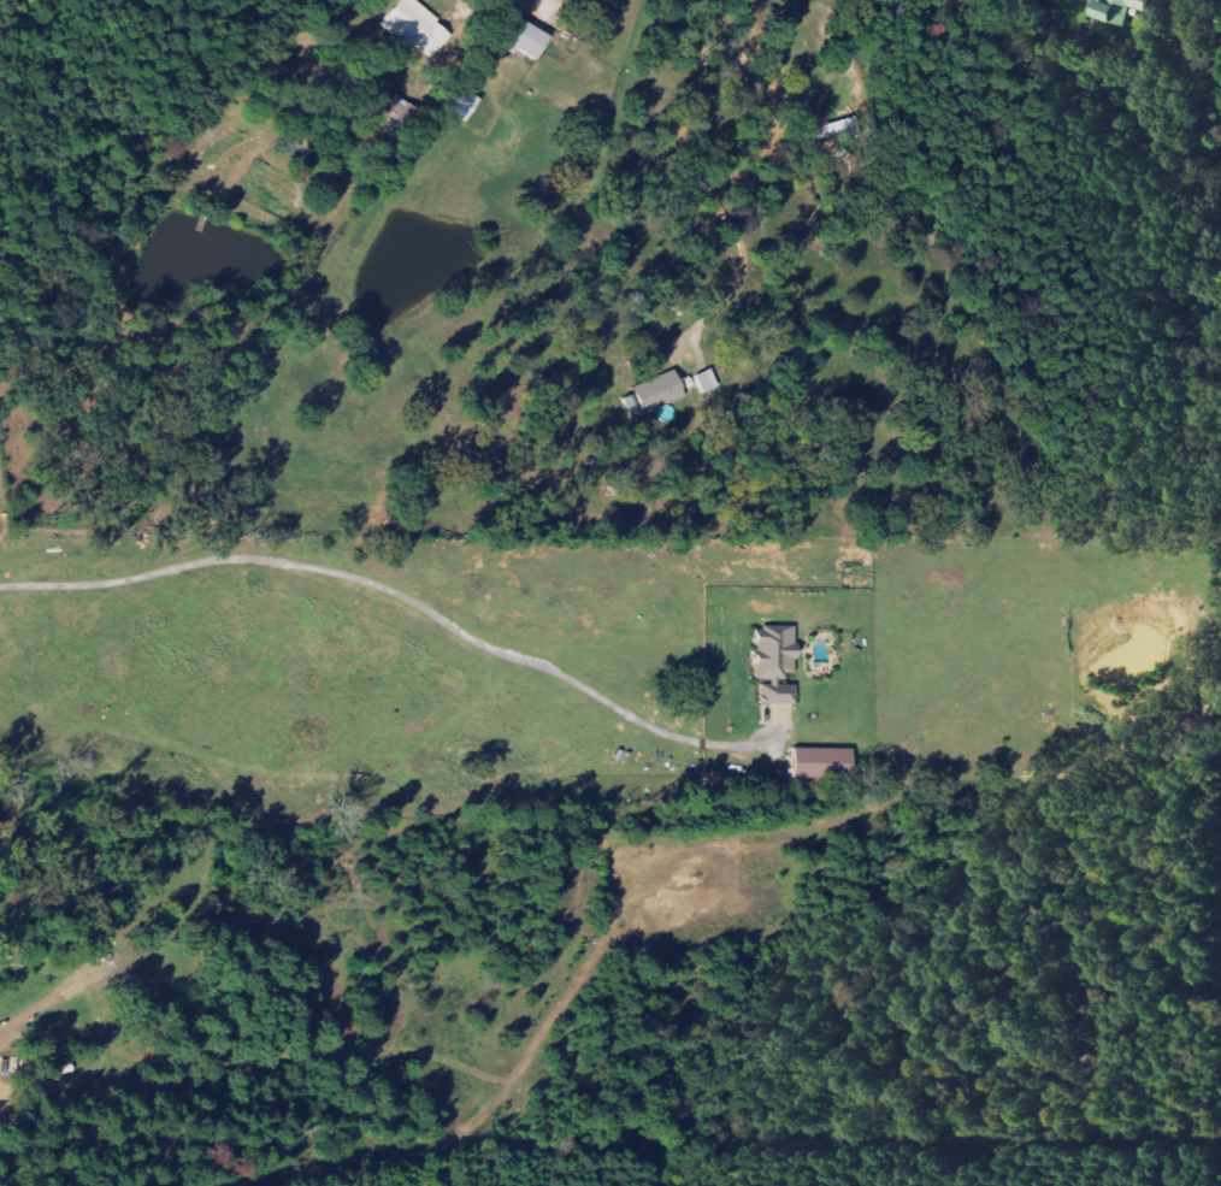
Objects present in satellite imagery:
building: (603, 0)
building: (1111, 10)
building: (519, 39)
building: (455, 101)
building: (651, 394)
building: (772, 665)
building: (820, 763)

